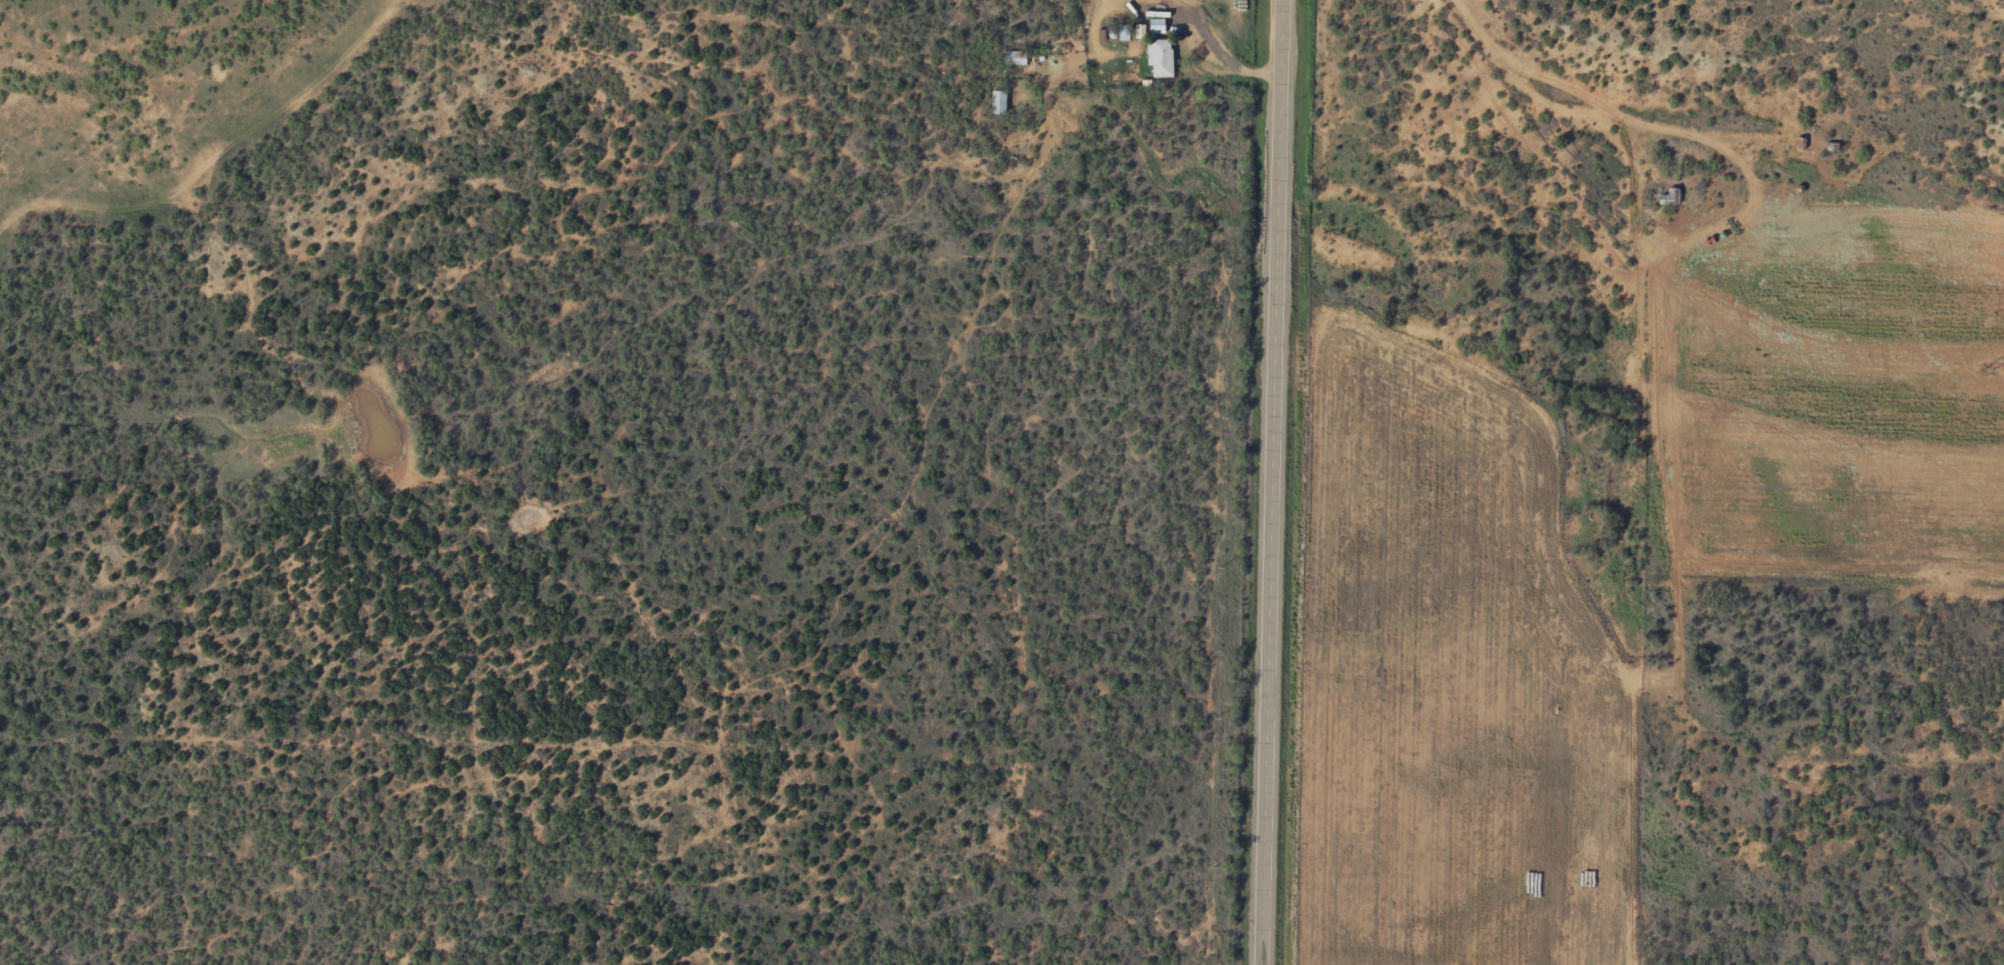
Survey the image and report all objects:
building: (1156, 27)
building: (1159, 59)
road: (1632, 97)
building: (998, 103)
building: (1669, 198)
power tower: (1987, 370)
road: (1278, 482)
power tower: (1950, 738)

